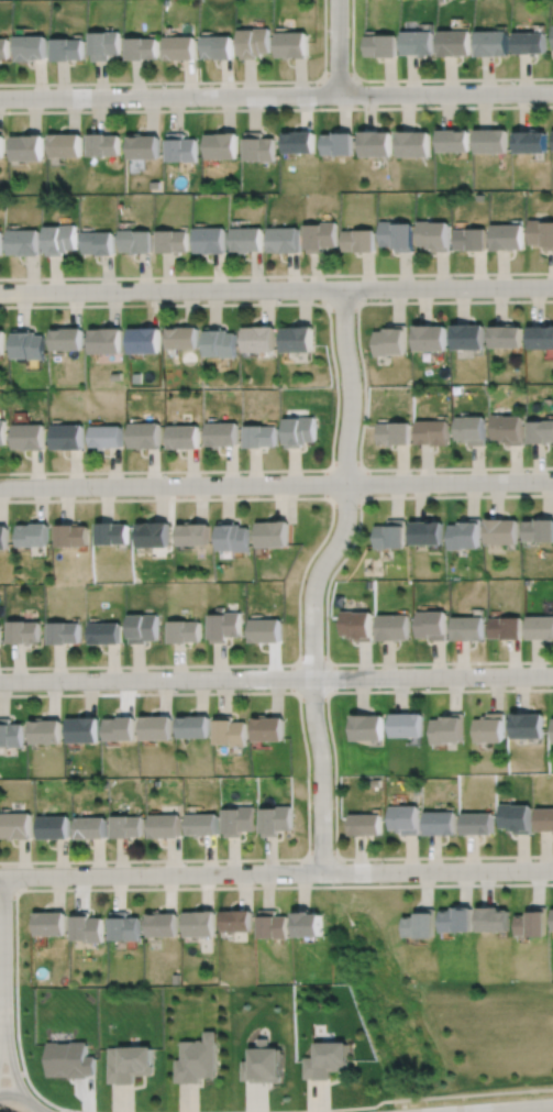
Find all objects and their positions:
building: (532, 41)
building: (255, 42)
building: (420, 42)
building: (457, 42)
building: (495, 42)
building: (108, 43)
building: (292, 44)
building: (219, 45)
building: (384, 45)
building: (33, 46)
building: (183, 46)
road: (338, 46)
building: (5, 47)
building: (145, 47)
building: (70, 48)
road: (339, 75)
road: (416, 78)
street lamp: (551, 80)
road: (199, 81)
street lamp: (313, 82)
street lamp: (89, 86)
road: (276, 95)
street lamp: (431, 103)
street lamp: (197, 106)
road: (276, 108)
building: (454, 140)
building: (493, 140)
building: (298, 141)
building: (532, 141)
building: (338, 142)
building: (376, 142)
building: (413, 143)
building: (106, 144)
building: (219, 144)
building: (2, 145)
building: (67, 145)
building: (144, 146)
building: (181, 146)
building: (257, 146)
building: (29, 147)
building: (542, 232)
building: (396, 234)
building: (435, 234)
building: (320, 236)
building: (509, 236)
building: (62, 239)
building: (246, 239)
building: (284, 239)
building: (473, 239)
building: (209, 240)
building: (358, 240)
building: (134, 241)
building: (170, 241)
building: (25, 242)
building: (97, 242)
building: (1, 243)
road: (276, 275)
road: (276, 288)
road: (343, 302)
building: (467, 337)
building: (506, 337)
building: (541, 337)
building: (181, 338)
building: (430, 338)
building: (66, 339)
building: (257, 339)
building: (296, 339)
building: (143, 340)
building: (390, 340)
building: (104, 341)
building: (1, 342)
building: (219, 342)
building: (27, 344)
road: (363, 384)
road: (335, 386)
building: (507, 429)
building: (469, 430)
building: (298, 431)
building: (540, 431)
building: (2, 432)
building: (394, 433)
building: (432, 433)
building: (221, 434)
building: (143, 436)
building: (26, 437)
building: (66, 437)
building: (104, 437)
building: (181, 437)
building: (258, 437)
road: (276, 483)
road: (360, 496)
building: (539, 531)
building: (502, 532)
building: (427, 533)
building: (111, 535)
building: (191, 535)
building: (272, 535)
building: (465, 535)
building: (31, 536)
building: (70, 536)
building: (152, 536)
building: (390, 536)
building: (3, 538)
building: (232, 538)
road: (307, 561)
road: (316, 576)
road: (325, 594)
building: (355, 625)
building: (223, 626)
building: (431, 626)
building: (540, 626)
building: (392, 627)
building: (141, 628)
building: (23, 629)
building: (506, 629)
building: (64, 630)
building: (264, 630)
building: (467, 630)
building: (104, 631)
building: (183, 631)
road: (325, 664)
road: (276, 679)
building: (407, 724)
building: (528, 724)
building: (192, 725)
building: (119, 726)
building: (367, 726)
building: (490, 726)
building: (155, 727)
building: (267, 727)
building: (82, 728)
building: (447, 728)
building: (44, 729)
building: (552, 729)
building: (229, 730)
building: (10, 731)
road: (333, 770)
road: (307, 779)
building: (516, 816)
building: (403, 818)
building: (544, 818)
building: (274, 819)
building: (236, 821)
building: (440, 822)
building: (477, 823)
building: (15, 824)
building: (200, 824)
building: (364, 824)
building: (53, 825)
building: (126, 825)
building: (163, 825)
building: (90, 826)
road: (320, 858)
road: (276, 872)
road: (151, 888)
road: (7, 889)
building: (457, 918)
building: (494, 918)
building: (235, 921)
building: (533, 922)
building: (51, 923)
building: (421, 923)
building: (198, 924)
building: (307, 924)
building: (123, 925)
building: (162, 925)
building: (270, 925)
building: (86, 926)
road: (2, 956)
park: (495, 1038)
road: (1, 1044)
building: (70, 1059)
building: (196, 1060)
building: (325, 1060)
building: (130, 1064)
building: (262, 1064)
road: (12, 1067)
road: (12, 1072)
road: (22, 1096)
road: (396, 1099)
road: (40, 1109)
road: (517, 1109)
road: (60, 1110)

